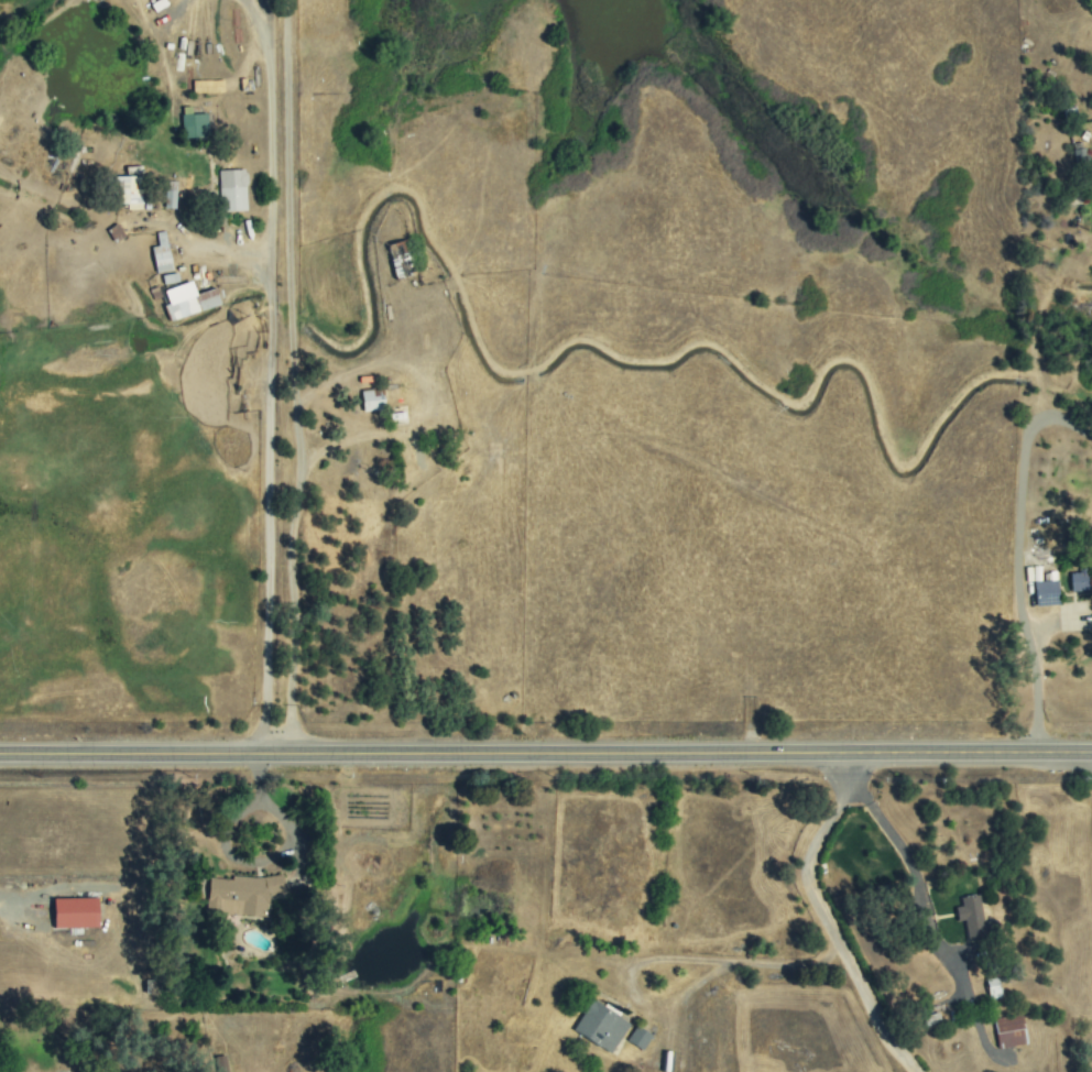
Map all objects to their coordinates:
road: (178, 8)
building: (194, 125)
building: (232, 190)
building: (129, 192)
building: (170, 195)
building: (161, 254)
building: (192, 305)
road: (270, 373)
road: (292, 378)
building: (371, 400)
road: (1019, 557)
building: (1079, 581)
building: (1046, 592)
road: (546, 755)
road: (898, 846)
building: (240, 894)
building: (74, 914)
building: (970, 917)
road: (826, 918)
road: (740, 961)
building: (600, 1027)
building: (1009, 1031)
building: (638, 1038)
building: (220, 1063)

